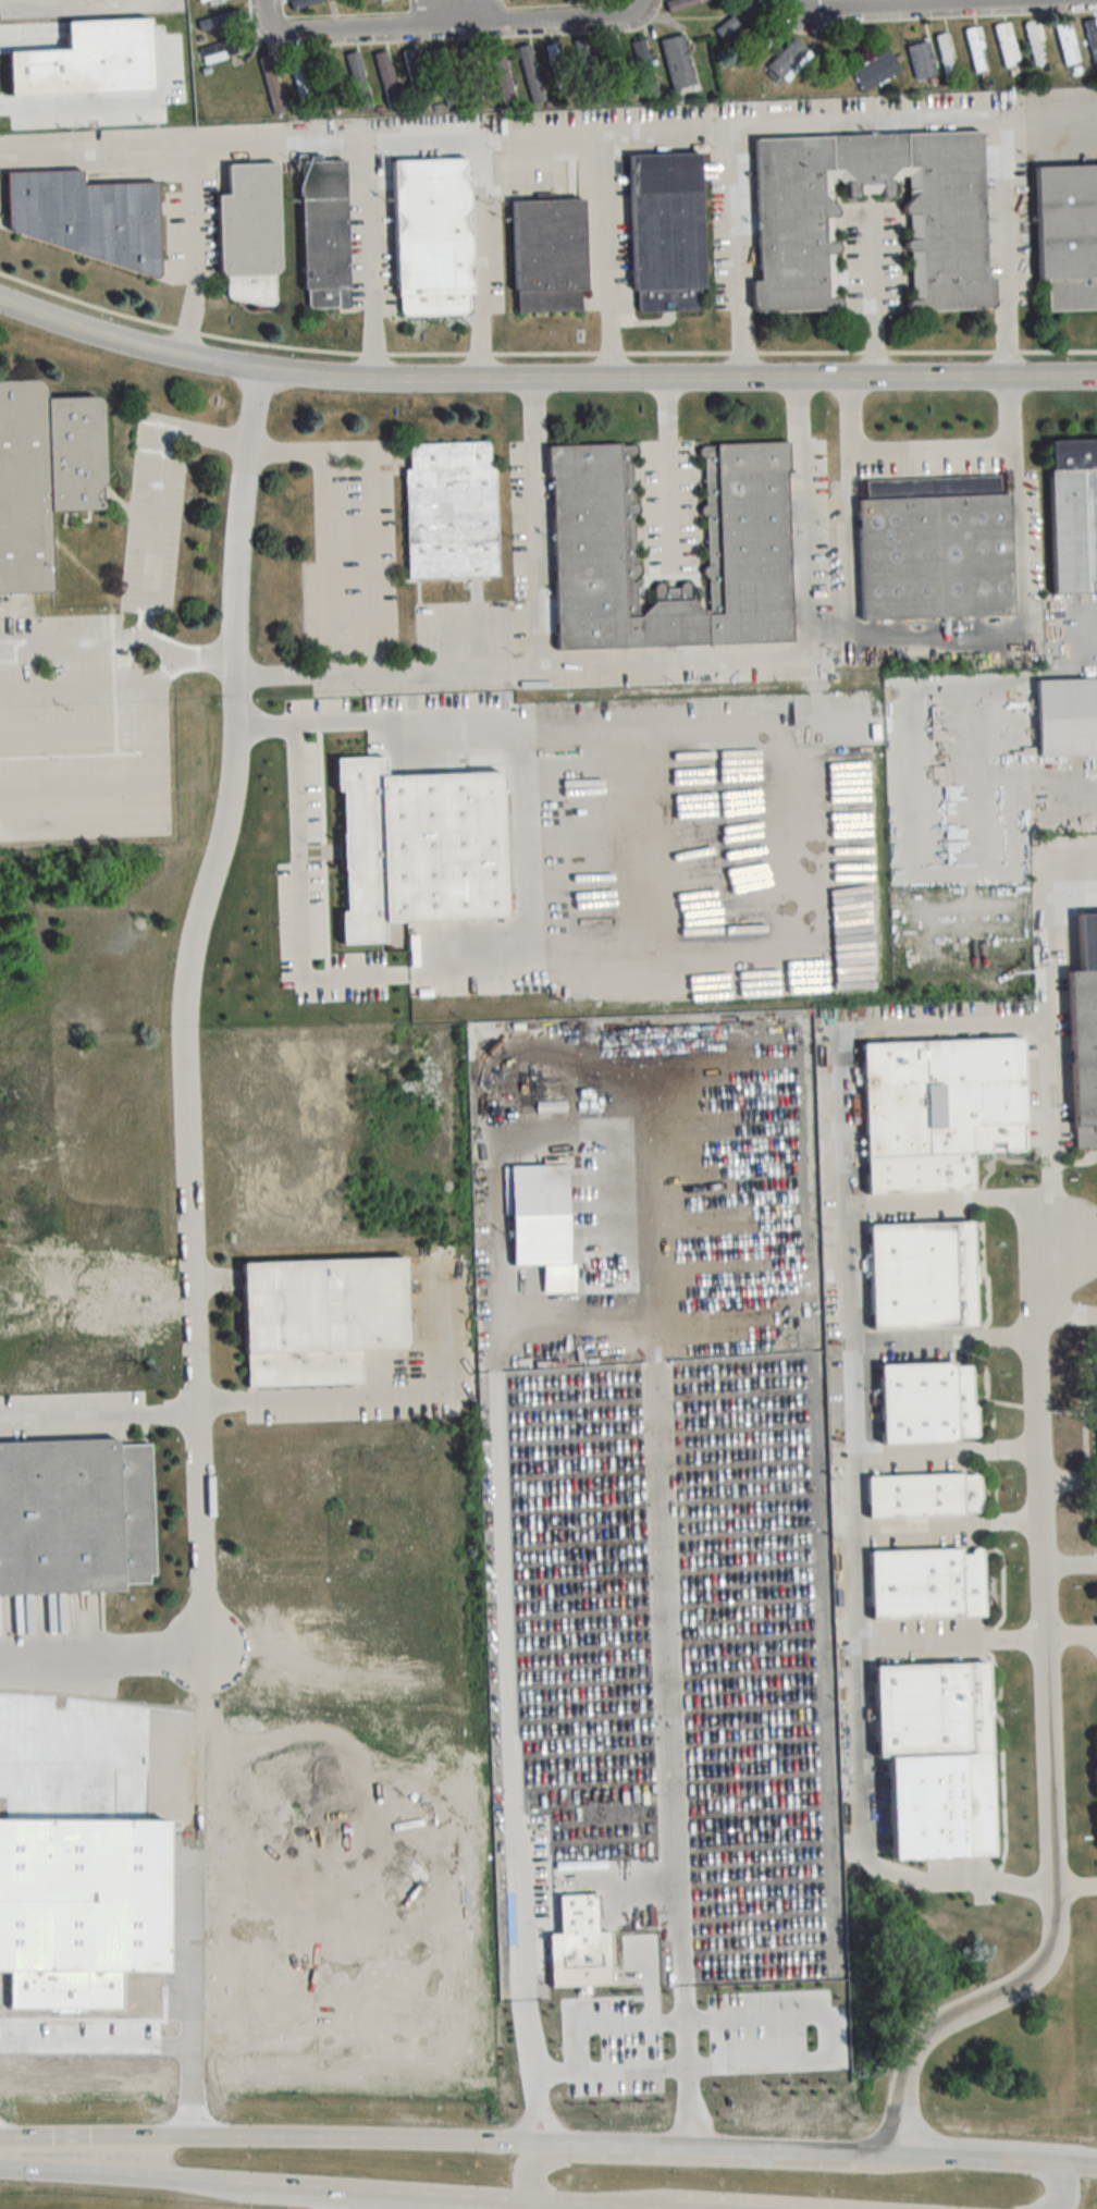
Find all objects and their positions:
building: (513, 0)
road: (799, 1)
building: (207, 2)
road: (945, 2)
building: (681, 3)
road: (637, 4)
road: (902, 5)
road: (486, 11)
road: (416, 13)
road: (268, 14)
building: (737, 17)
building: (220, 22)
road: (455, 24)
building: (1067, 42)
building: (1006, 44)
building: (1035, 45)
building: (757, 46)
building: (975, 49)
building: (222, 50)
building: (946, 56)
building: (789, 60)
building: (922, 60)
building: (677, 61)
building: (555, 64)
building: (586, 64)
building: (325, 68)
building: (617, 69)
building: (643, 69)
building: (875, 70)
building: (529, 73)
building: (443, 76)
building: (415, 78)
building: (386, 81)
building: (357, 82)
building: (272, 85)
road: (1065, 118)
road: (629, 130)
building: (87, 217)
building: (947, 229)
building: (667, 232)
building: (250, 233)
building: (325, 234)
building: (1068, 234)
building: (432, 236)
road: (198, 254)
road: (736, 254)
building: (548, 255)
road: (605, 257)
road: (482, 259)
road: (371, 261)
road: (873, 295)
road: (543, 382)
road: (930, 449)
road: (668, 475)
building: (44, 476)
road: (370, 501)
road: (158, 504)
building: (446, 511)
building: (747, 515)
building: (1074, 515)
road: (538, 525)
building: (935, 549)
road: (321, 562)
road: (936, 633)
road: (70, 635)
road: (658, 662)
building: (1068, 716)
road: (288, 721)
road: (160, 763)
road: (513, 829)
road: (299, 888)
road: (184, 1006)
road: (841, 1029)
building: (1085, 1038)
building: (941, 1112)
road: (1050, 1131)
building: (923, 1276)
road: (1068, 1310)
building: (322, 1320)
road: (941, 1342)
road: (381, 1396)
building: (928, 1404)
road: (98, 1415)
road: (944, 1452)
road: (1069, 1480)
building: (924, 1497)
building: (75, 1519)
road: (947, 1525)
road: (1071, 1559)
building: (927, 1585)
road: (851, 1631)
road: (949, 1641)
road: (103, 1664)
building: (933, 1709)
road: (1050, 1733)
road: (1076, 1887)
road: (619, 2069)
road: (548, 2143)
road: (683, 2160)
road: (1059, 2186)
road: (325, 2187)
road: (328, 2198)
park: (27, 2200)
road: (762, 2201)
road: (540, 2206)
road: (808, 2207)

